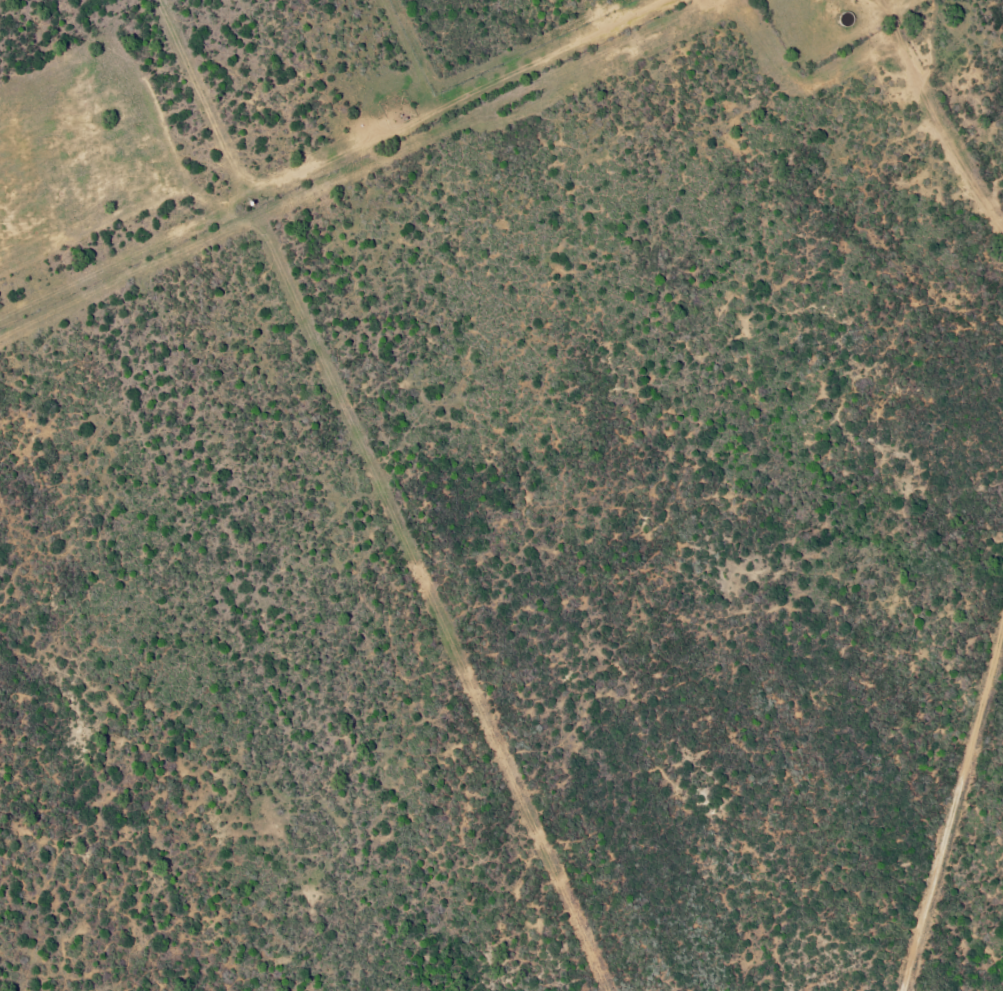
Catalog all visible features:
road: (937, 116)
road: (954, 800)

